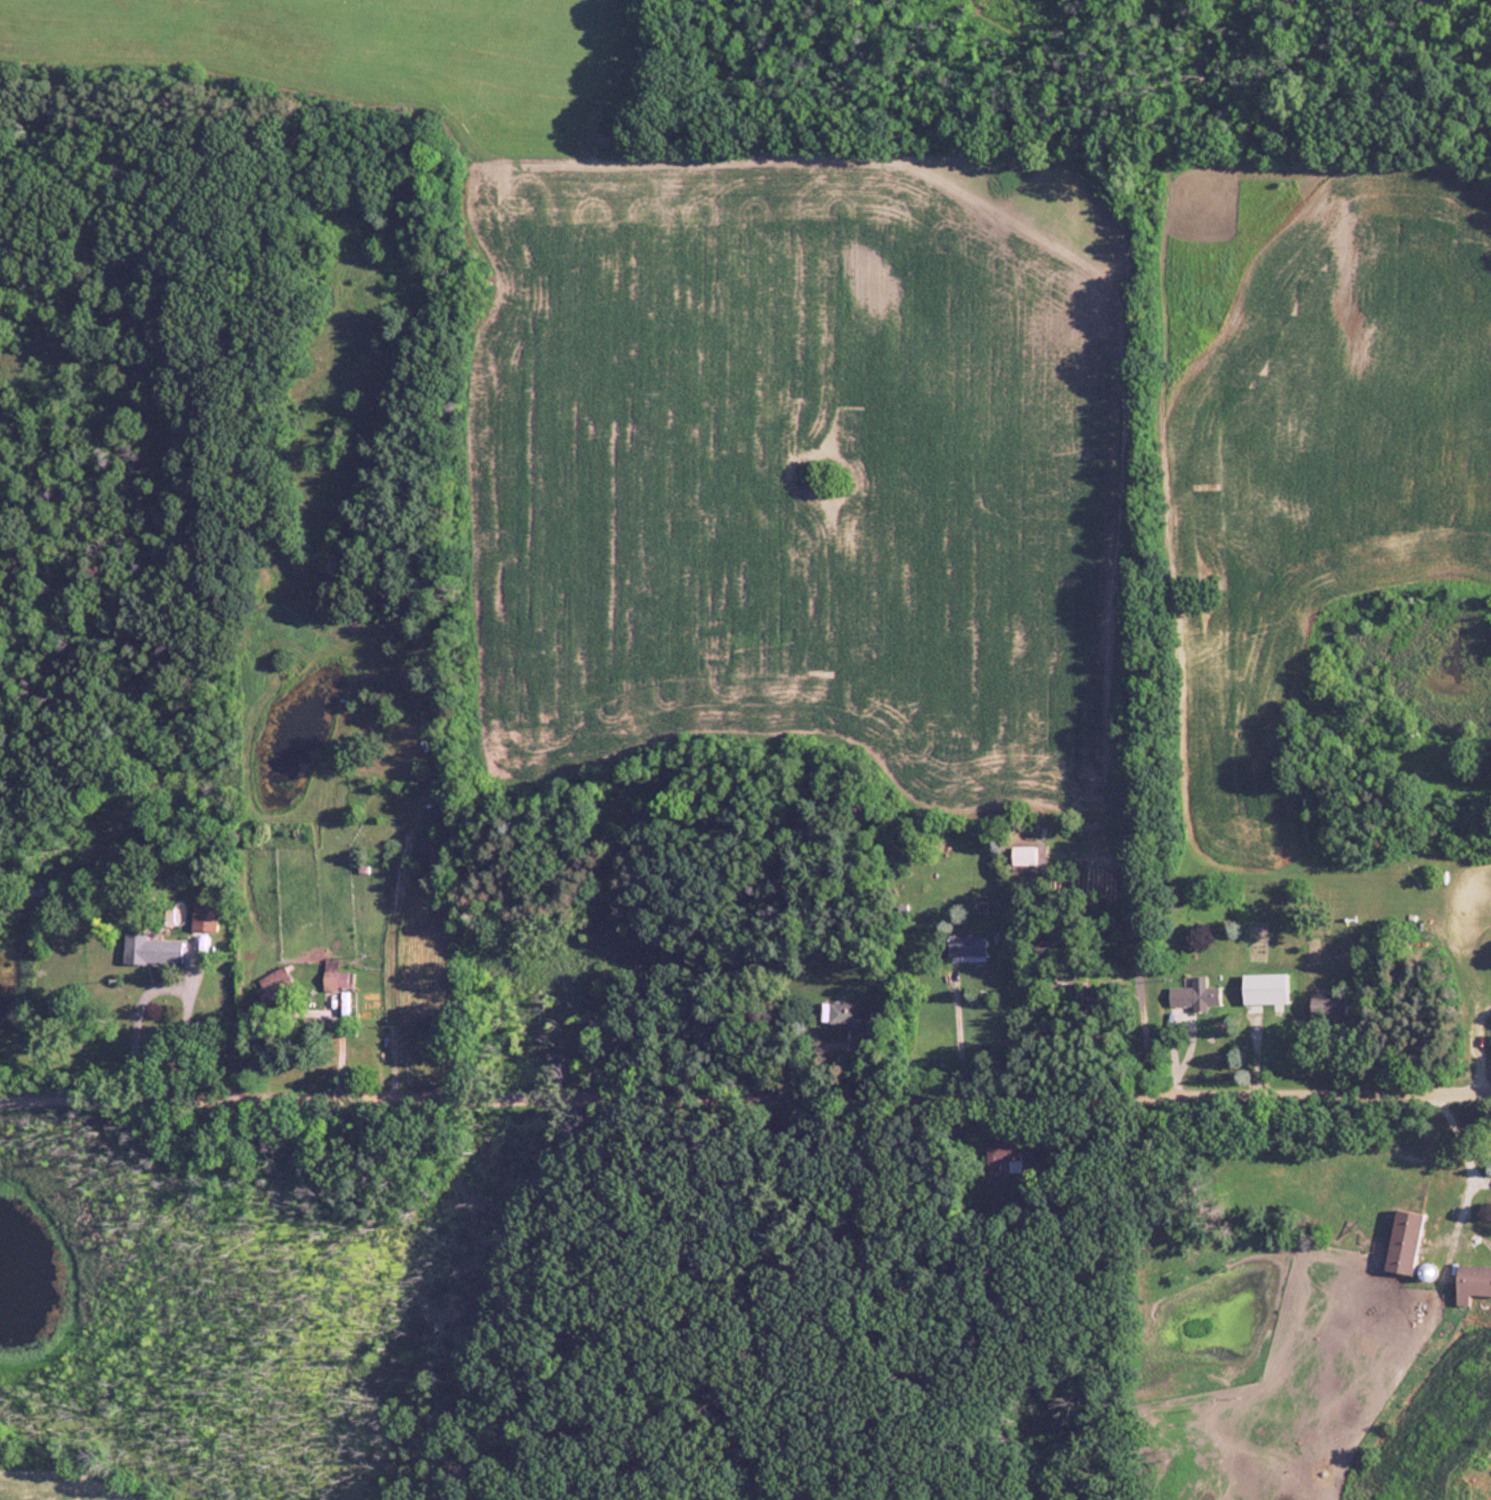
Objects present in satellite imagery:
building: (324, 564)
building: (204, 914)
road: (1127, 942)
building: (966, 947)
building: (151, 949)
building: (334, 975)
building: (1193, 995)
building: (1327, 1005)
building: (846, 1014)
road: (958, 1029)
road: (745, 1094)
building: (1011, 1152)
road: (1467, 1157)
building: (1403, 1242)
building: (1472, 1282)

